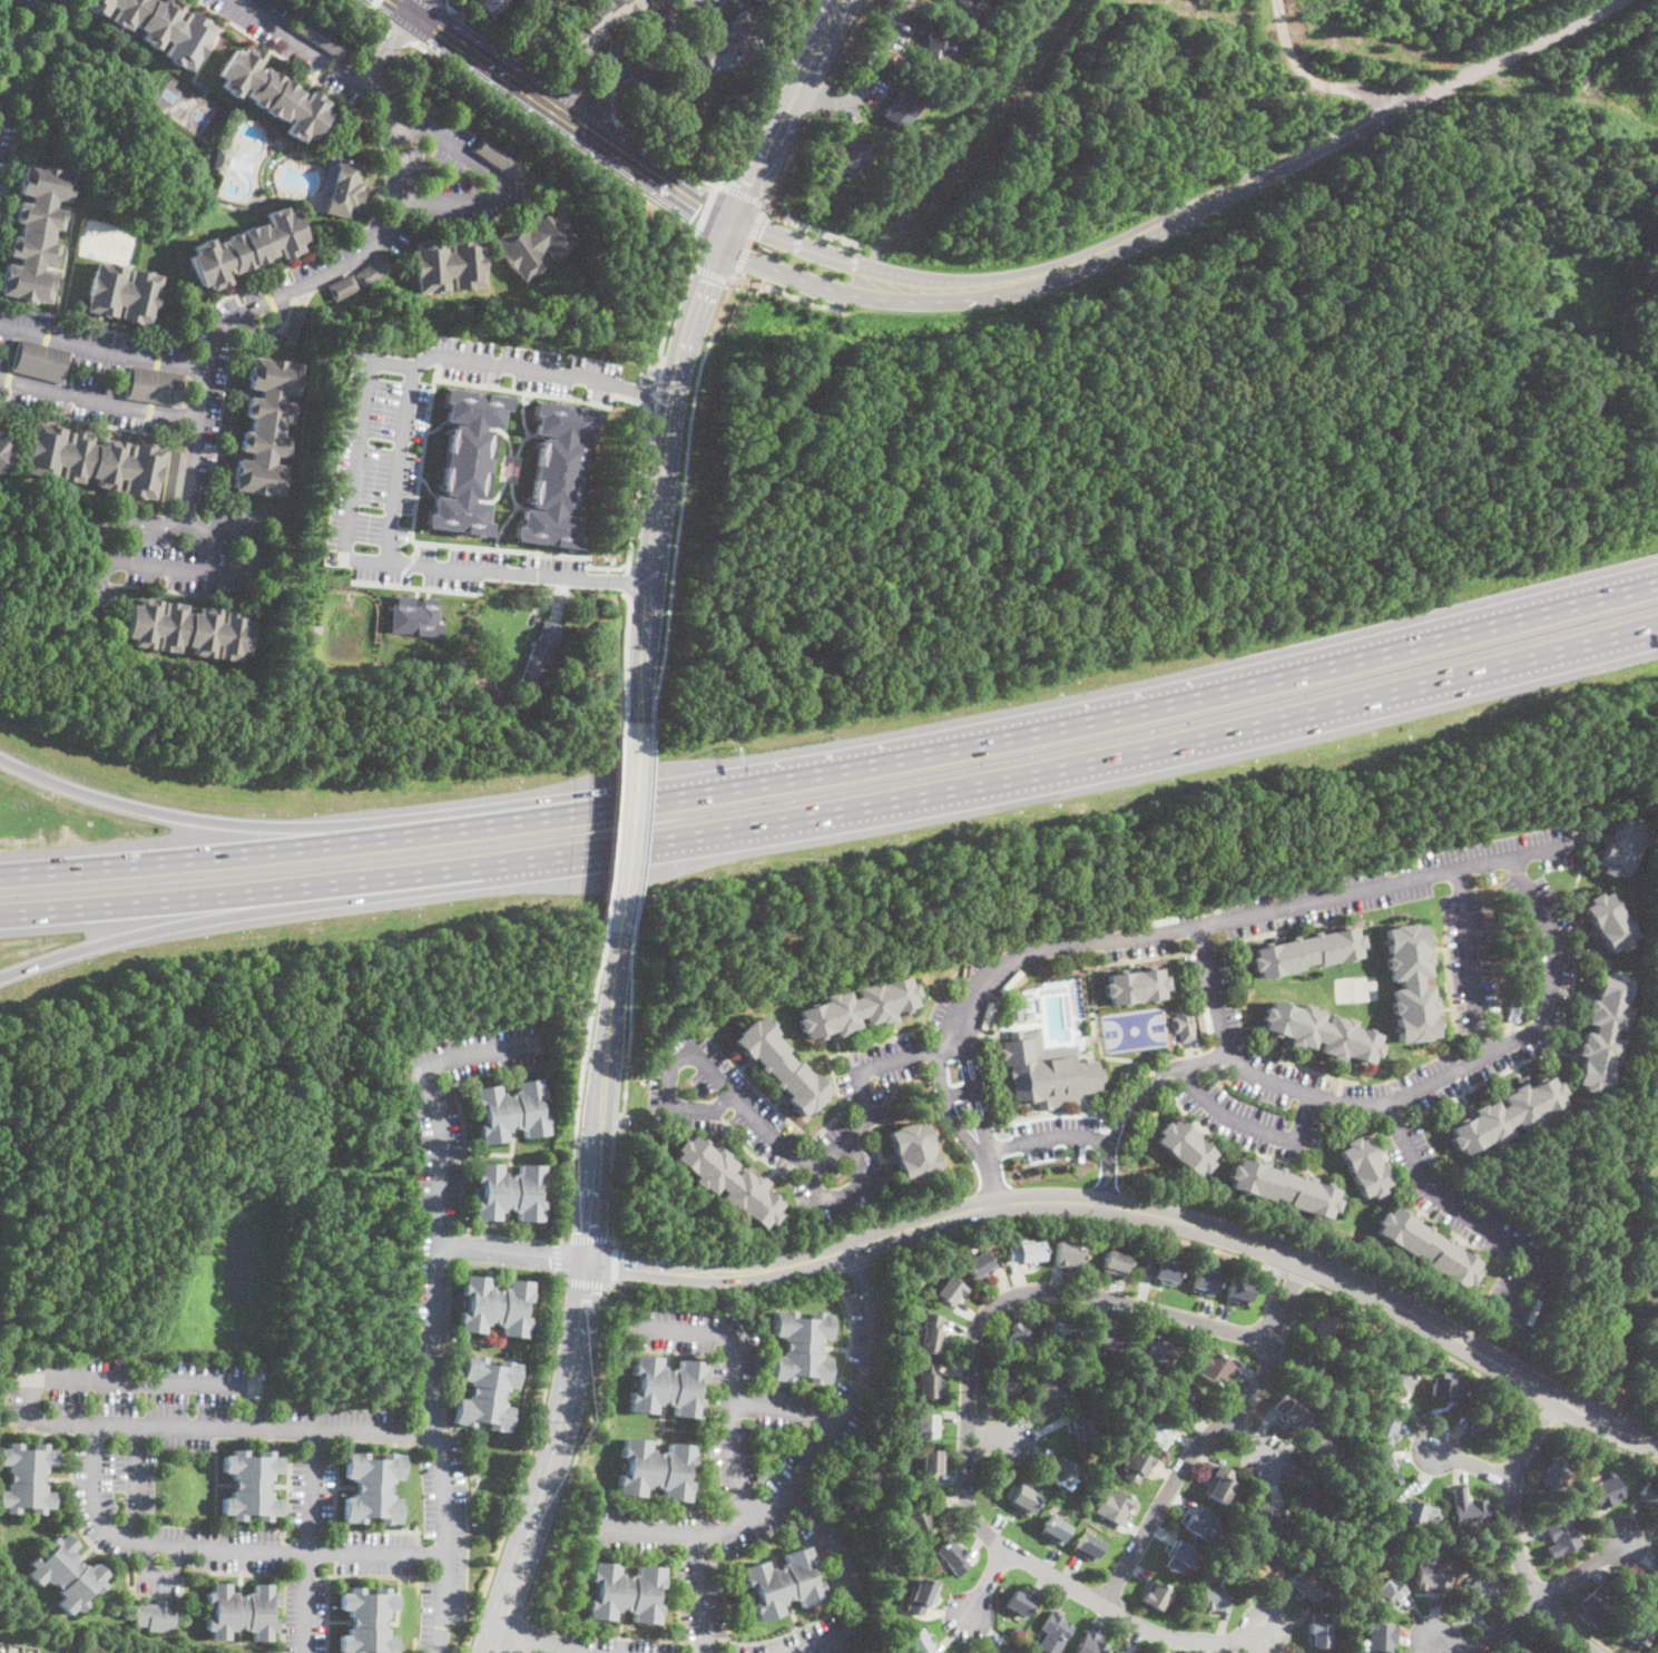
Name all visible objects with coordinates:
building: (771, 1)
road: (445, 3)
building: (970, 3)
building: (491, 6)
road: (428, 9)
road: (369, 11)
road: (400, 11)
building: (597, 22)
building: (160, 26)
road: (401, 33)
building: (320, 36)
road: (14, 47)
building: (722, 47)
road: (512, 49)
building: (935, 49)
road: (391, 50)
road: (636, 60)
road: (867, 76)
road: (1313, 77)
road: (772, 87)
building: (273, 94)
road: (593, 106)
building: (902, 109)
road: (561, 113)
road: (787, 113)
road: (965, 134)
building: (852, 155)
building: (219, 158)
building: (501, 158)
road: (673, 158)
road: (789, 160)
building: (431, 173)
road: (1260, 174)
road: (500, 179)
building: (343, 186)
road: (626, 186)
traffic signals: (749, 187)
building: (862, 190)
road: (744, 194)
traffic signals: (698, 208)
building: (310, 209)
road: (704, 209)
road: (811, 228)
traffic signals: (762, 229)
building: (36, 232)
road: (750, 238)
building: (534, 241)
road: (813, 247)
building: (246, 248)
road: (362, 257)
road: (689, 263)
building: (450, 264)
building: (374, 270)
road: (709, 272)
road: (801, 275)
traffic signals: (705, 278)
road: (729, 282)
building: (343, 287)
road: (700, 287)
building: (124, 293)
road: (271, 330)
road: (101, 352)
building: (40, 361)
parking lot: (522, 366)
building: (155, 385)
road: (636, 390)
road: (538, 392)
road: (98, 401)
road: (524, 423)
building: (266, 427)
road: (534, 433)
road: (506, 434)
road: (686, 438)
building: (4, 450)
road: (521, 454)
building: (92, 460)
road: (356, 460)
building: (465, 460)
road: (661, 464)
road: (398, 466)
building: (556, 473)
building: (174, 476)
road: (639, 481)
road: (497, 496)
road: (524, 505)
road: (510, 515)
road: (126, 520)
road: (434, 541)
road: (416, 547)
road: (403, 567)
parking lot: (494, 567)
road: (198, 573)
road: (626, 580)
road: (414, 586)
building: (415, 615)
building: (188, 629)
building: (543, 645)
road: (646, 651)
road: (626, 654)
building: (489, 692)
road: (835, 764)
road: (836, 808)
road: (225, 819)
road: (615, 823)
road: (630, 825)
road: (642, 825)
building: (1620, 847)
road: (1237, 918)
road: (202, 919)
building: (1607, 922)
building: (1304, 951)
road: (1469, 965)
building: (1410, 981)
building: (1135, 985)
road: (1211, 990)
building: (857, 1008)
building: (1513, 1010)
building: (1014, 1015)
building: (1183, 1024)
park: (1135, 1028)
building: (1601, 1029)
road: (588, 1030)
building: (1319, 1033)
road: (1207, 1059)
road: (1469, 1065)
building: (779, 1066)
road: (492, 1072)
building: (1047, 1073)
building: (1219, 1074)
building: (1650, 1083)
road: (626, 1089)
road: (960, 1093)
road: (604, 1094)
building: (892, 1094)
road: (1140, 1095)
road: (977, 1101)
road: (669, 1107)
building: (964, 1108)
road: (950, 1111)
building: (510, 1112)
building: (1505, 1114)
road: (1254, 1124)
road: (1051, 1138)
road: (462, 1145)
building: (1184, 1146)
building: (912, 1151)
road: (830, 1154)
building: (1363, 1167)
road: (1108, 1174)
building: (727, 1182)
road: (995, 1185)
building: (1283, 1187)
road: (852, 1191)
building: (509, 1192)
road: (1463, 1215)
road: (1072, 1219)
road: (587, 1238)
road: (560, 1239)
building: (1426, 1246)
road: (1273, 1249)
building: (1657, 1249)
building: (1031, 1251)
road: (513, 1252)
building: (1068, 1253)
road: (557, 1255)
traffic signals: (590, 1261)
road: (494, 1262)
road: (615, 1262)
building: (1116, 1262)
road: (859, 1264)
building: (979, 1264)
building: (1160, 1270)
road: (723, 1272)
road: (1292, 1274)
building: (1657, 1277)
building: (1203, 1281)
road: (585, 1282)
building: (950, 1290)
building: (1238, 1291)
road: (435, 1301)
building: (496, 1305)
building: (922, 1314)
building: (1508, 1322)
building: (1322, 1323)
building: (1518, 1329)
building: (1065, 1330)
building: (931, 1333)
building: (1019, 1334)
building: (1106, 1339)
road: (1421, 1339)
building: (801, 1347)
building: (1151, 1350)
road: (596, 1359)
building: (1313, 1366)
building: (1217, 1370)
road: (733, 1377)
road: (114, 1378)
building: (1397, 1378)
building: (929, 1380)
building: (1005, 1383)
building: (666, 1386)
building: (1445, 1387)
building: (1049, 1388)
road: (827, 1389)
building: (487, 1392)
building: (1185, 1395)
road: (784, 1408)
road: (1543, 1410)
building: (1289, 1411)
building: (1488, 1421)
building: (1085, 1424)
building: (925, 1425)
building: (1384, 1428)
road: (970, 1430)
building: (1158, 1431)
road: (1213, 1434)
road: (997, 1440)
road: (1255, 1445)
road: (1608, 1445)
building: (1322, 1449)
road: (555, 1459)
building: (931, 1460)
road: (1474, 1463)
building: (1137, 1464)
road: (807, 1467)
building: (656, 1469)
building: (473, 1471)
building: (1062, 1471)
building: (1385, 1471)
building: (1552, 1473)
building: (762, 1476)
building: (26, 1477)
road: (94, 1477)
road: (136, 1483)
building: (1219, 1484)
building: (251, 1485)
building: (371, 1487)
building: (1606, 1490)
road: (1524, 1496)
building: (1649, 1496)
building: (1024, 1500)
building: (1313, 1502)
building: (1115, 1506)
building: (1468, 1509)
building: (1415, 1512)
building: (1268, 1518)
building: (1201, 1523)
building: (921, 1524)
building: (1054, 1529)
road: (1515, 1534)
building: (1561, 1535)
road: (310, 1540)
building: (1087, 1546)
building: (1179, 1554)
building: (952, 1557)
building: (1657, 1567)
building: (1257, 1569)
building: (66, 1573)
building: (1433, 1574)
road: (855, 1576)
road: (159, 1577)
building: (783, 1583)
building: (1307, 1583)
building: (1484, 1586)
building: (624, 1592)
road: (985, 1592)
building: (1389, 1593)
road: (1551, 1594)
road: (700, 1595)
building: (921, 1595)
building: (1156, 1595)
building: (1213, 1597)
building: (1020, 1603)
road: (1539, 1605)
building: (1595, 1605)
building: (241, 1611)
building: (155, 1615)
building: (367, 1621)
building: (1318, 1628)
building: (1632, 1631)
building: (1054, 1632)
road: (1588, 1632)
road: (520, 1633)
building: (1381, 1635)
road: (532, 1642)
building: (919, 1642)
building: (1089, 1643)
building: (1532, 1649)
building: (1656, 1649)
building: (1004, 1650)
building: (1, 1651)
building: (10, 1651)
building: (23, 1652)
building: (1118, 1652)

